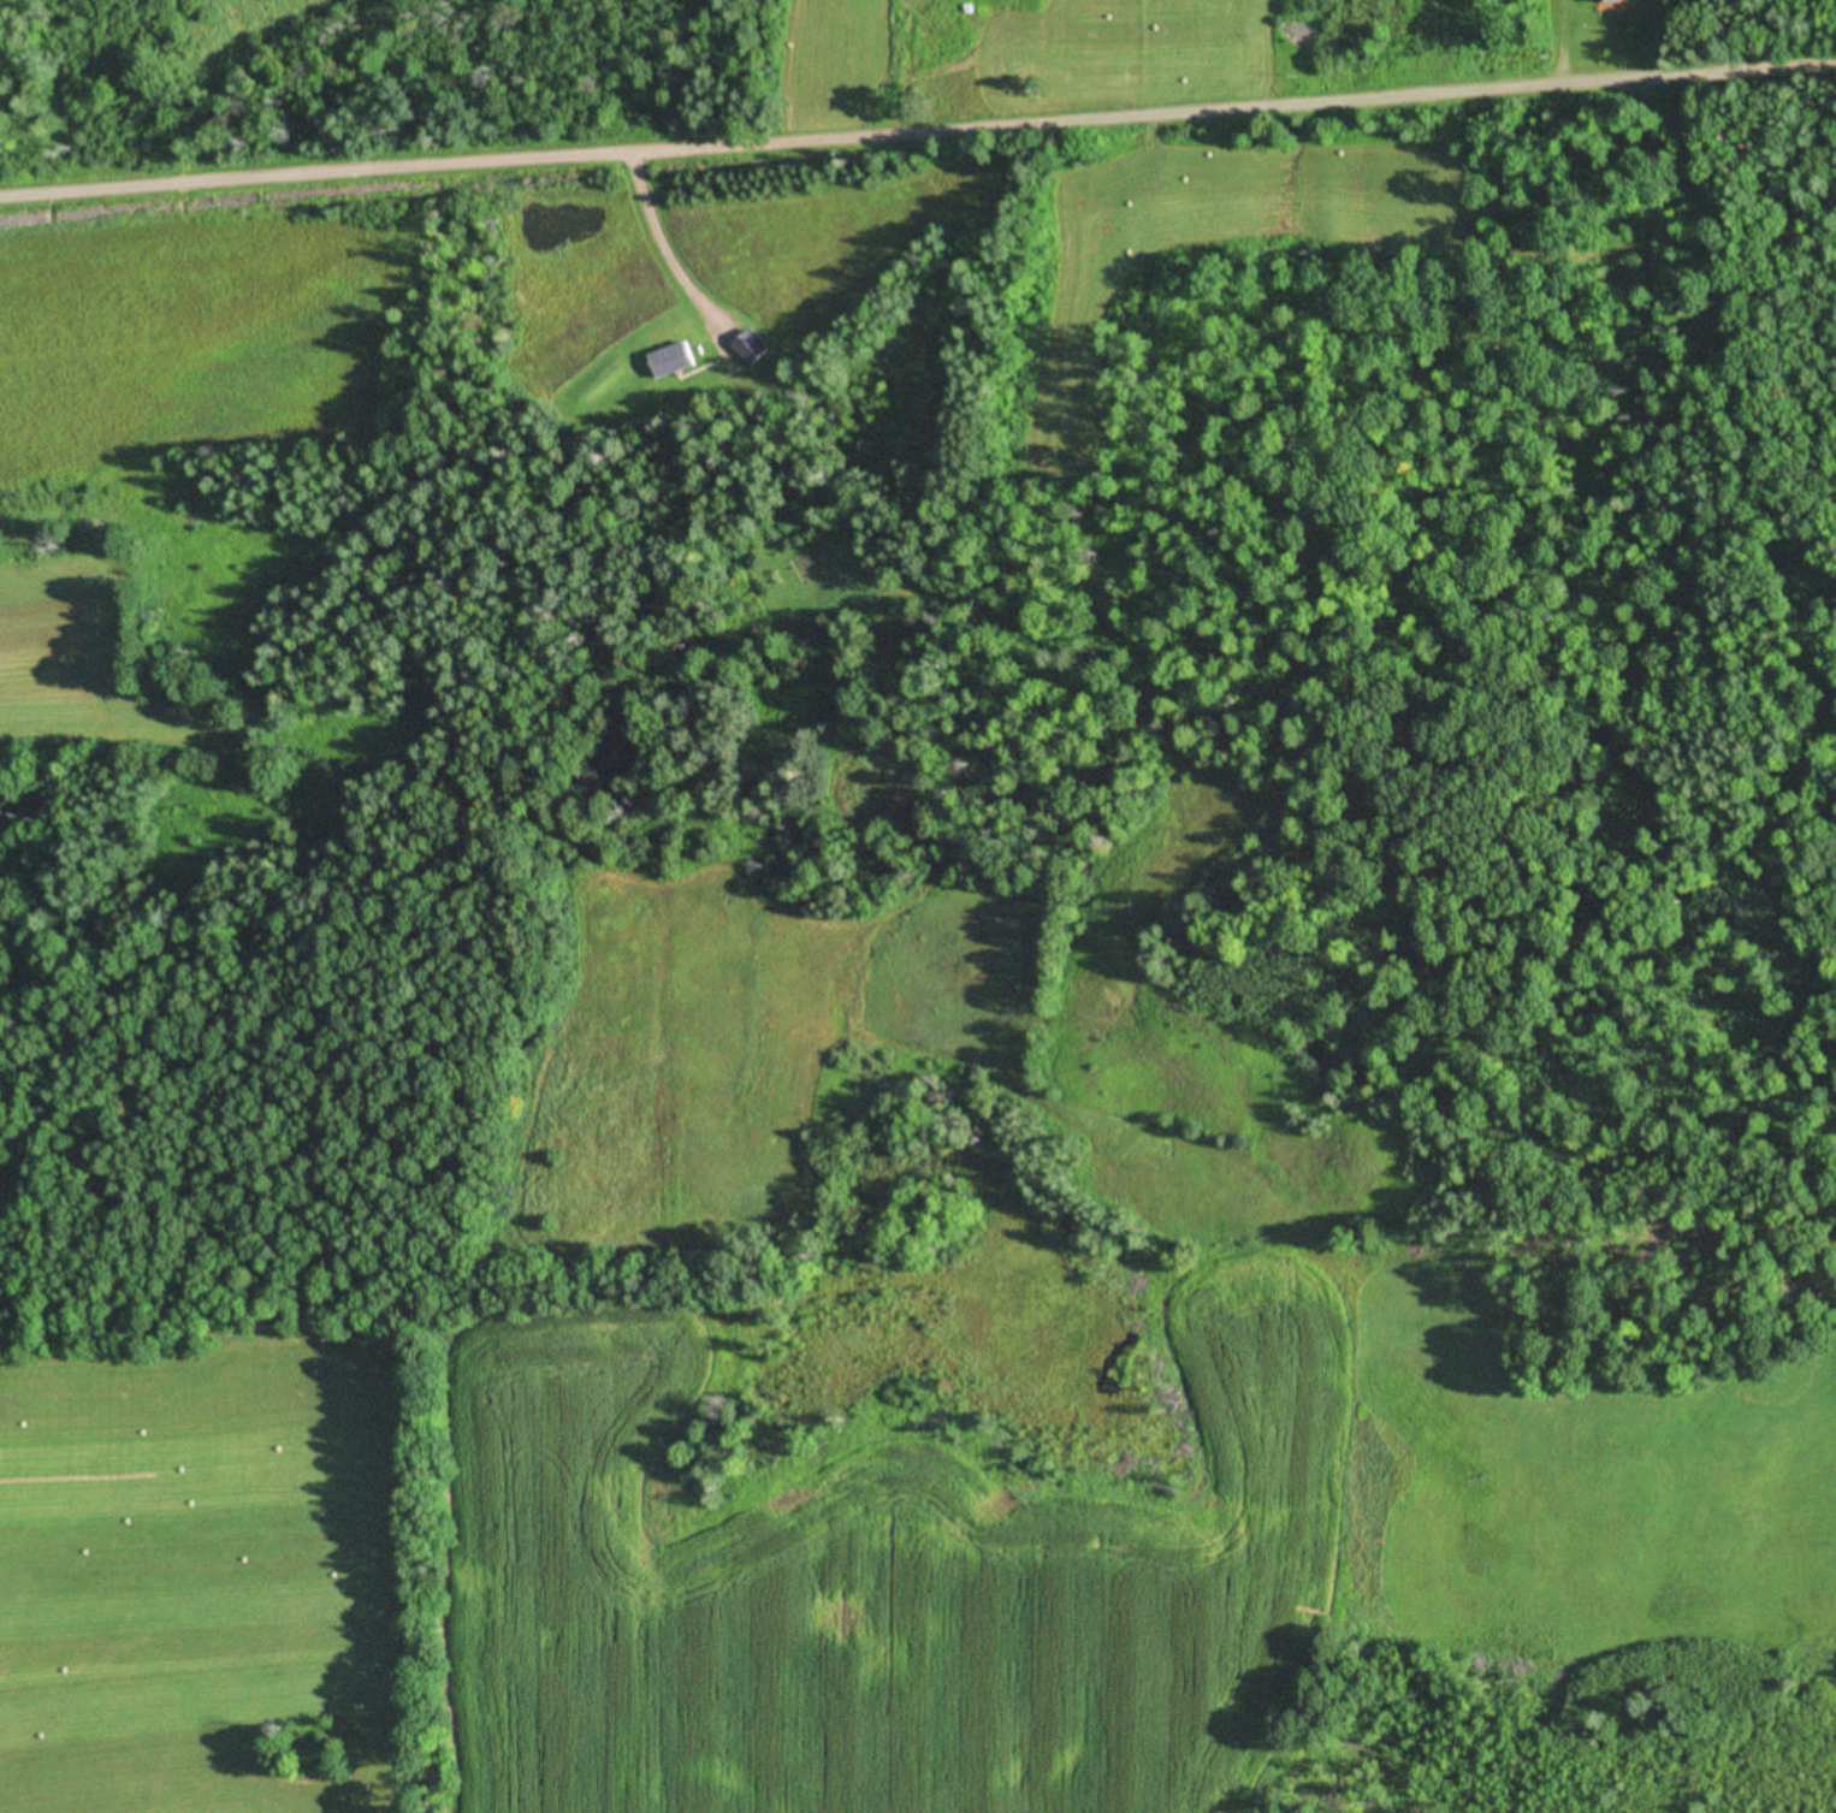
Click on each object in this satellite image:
building: (1605, 1)
road: (917, 122)
building: (753, 348)
building: (676, 360)

